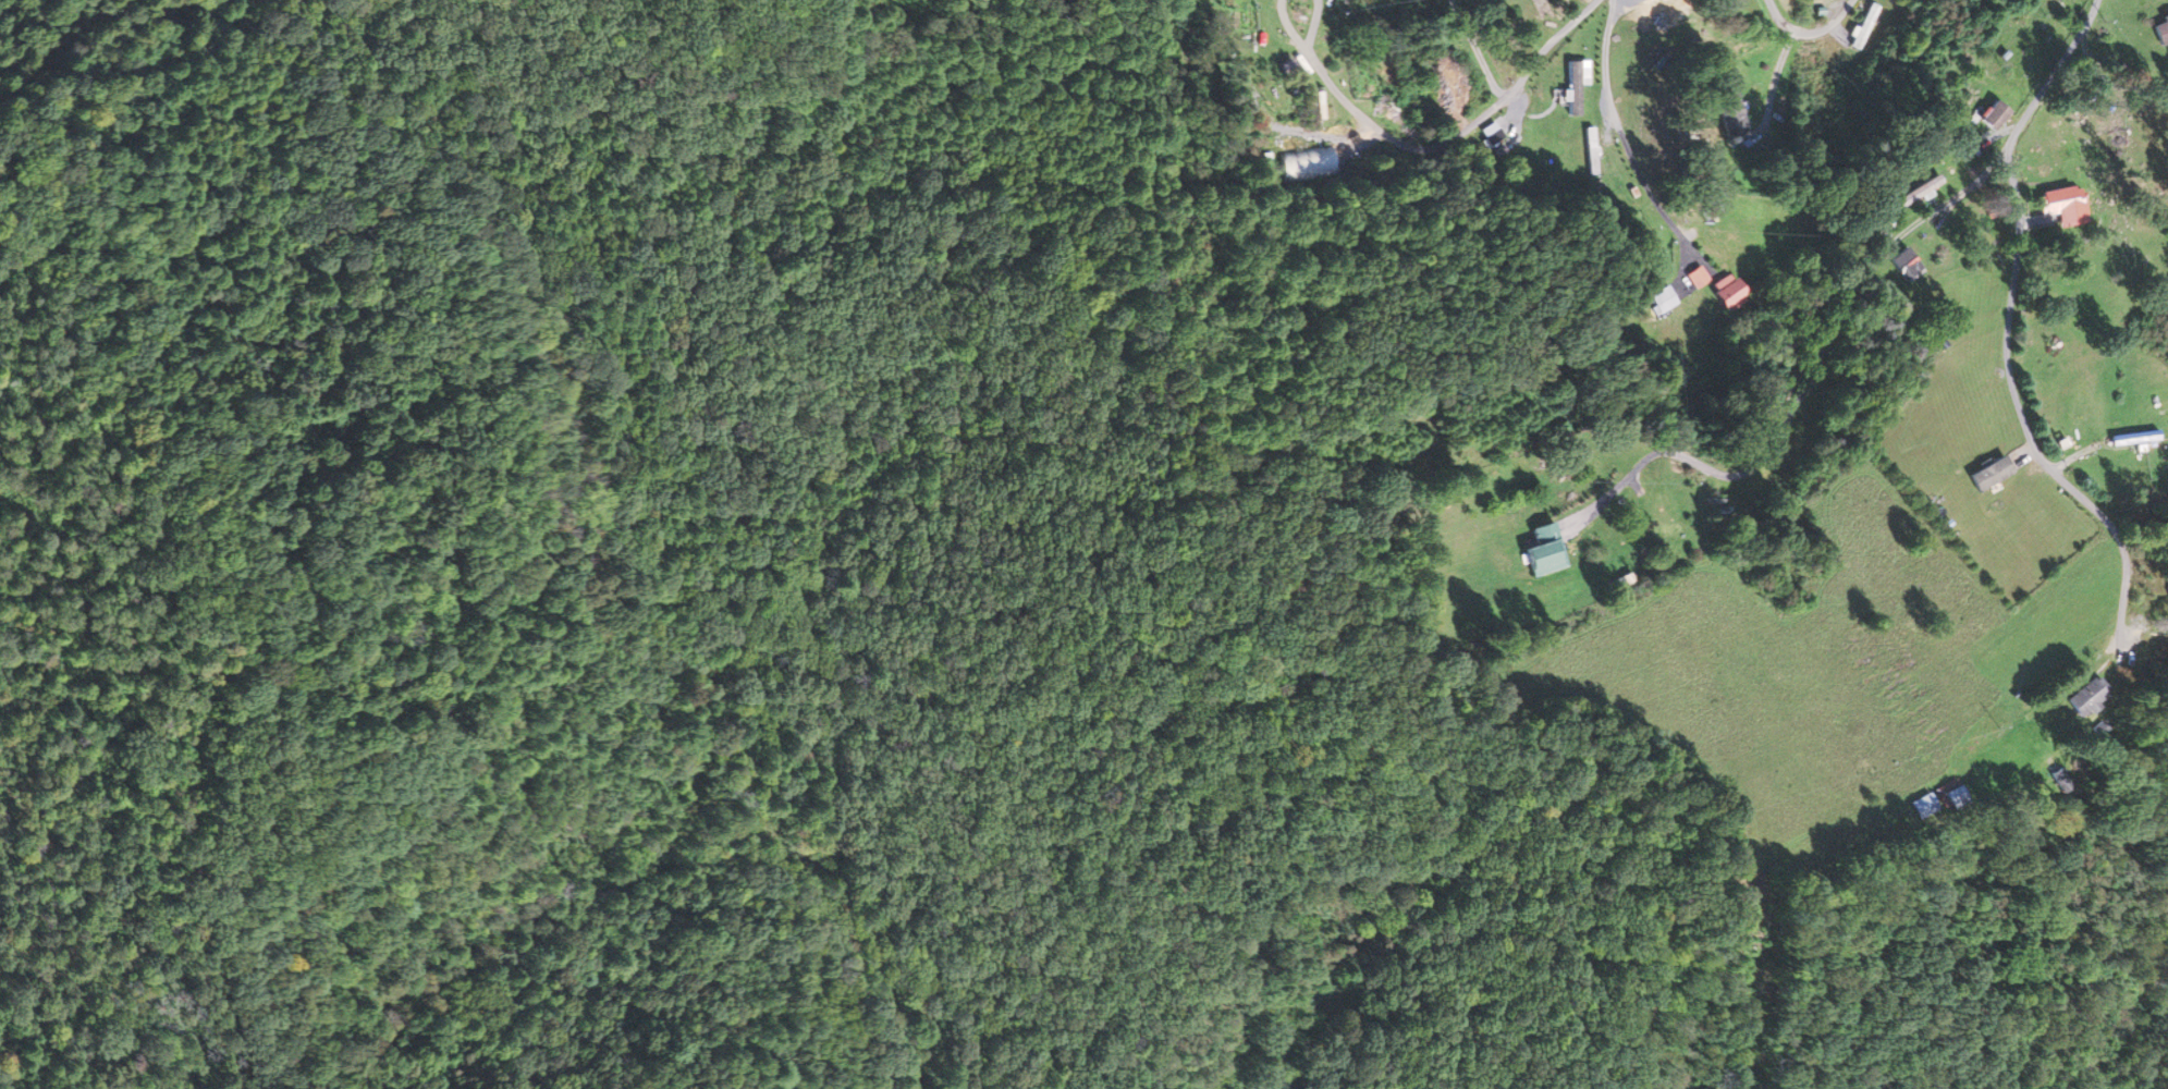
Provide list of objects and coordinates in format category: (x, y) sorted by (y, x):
building: (1665, 14)
building: (1863, 27)
building: (2160, 30)
road: (1806, 39)
road: (2127, 60)
building: (1575, 86)
building: (1731, 114)
building: (1989, 115)
building: (1491, 134)
road: (1618, 137)
road: (1455, 139)
building: (1590, 150)
building: (1308, 166)
building: (1913, 192)
building: (2061, 206)
building: (1904, 264)
building: (1724, 291)
building: (1661, 299)
road: (2005, 331)
road: (1801, 392)
building: (2135, 439)
building: (1987, 474)
building: (1540, 556)
building: (2082, 698)
building: (1949, 794)
building: (1918, 806)

